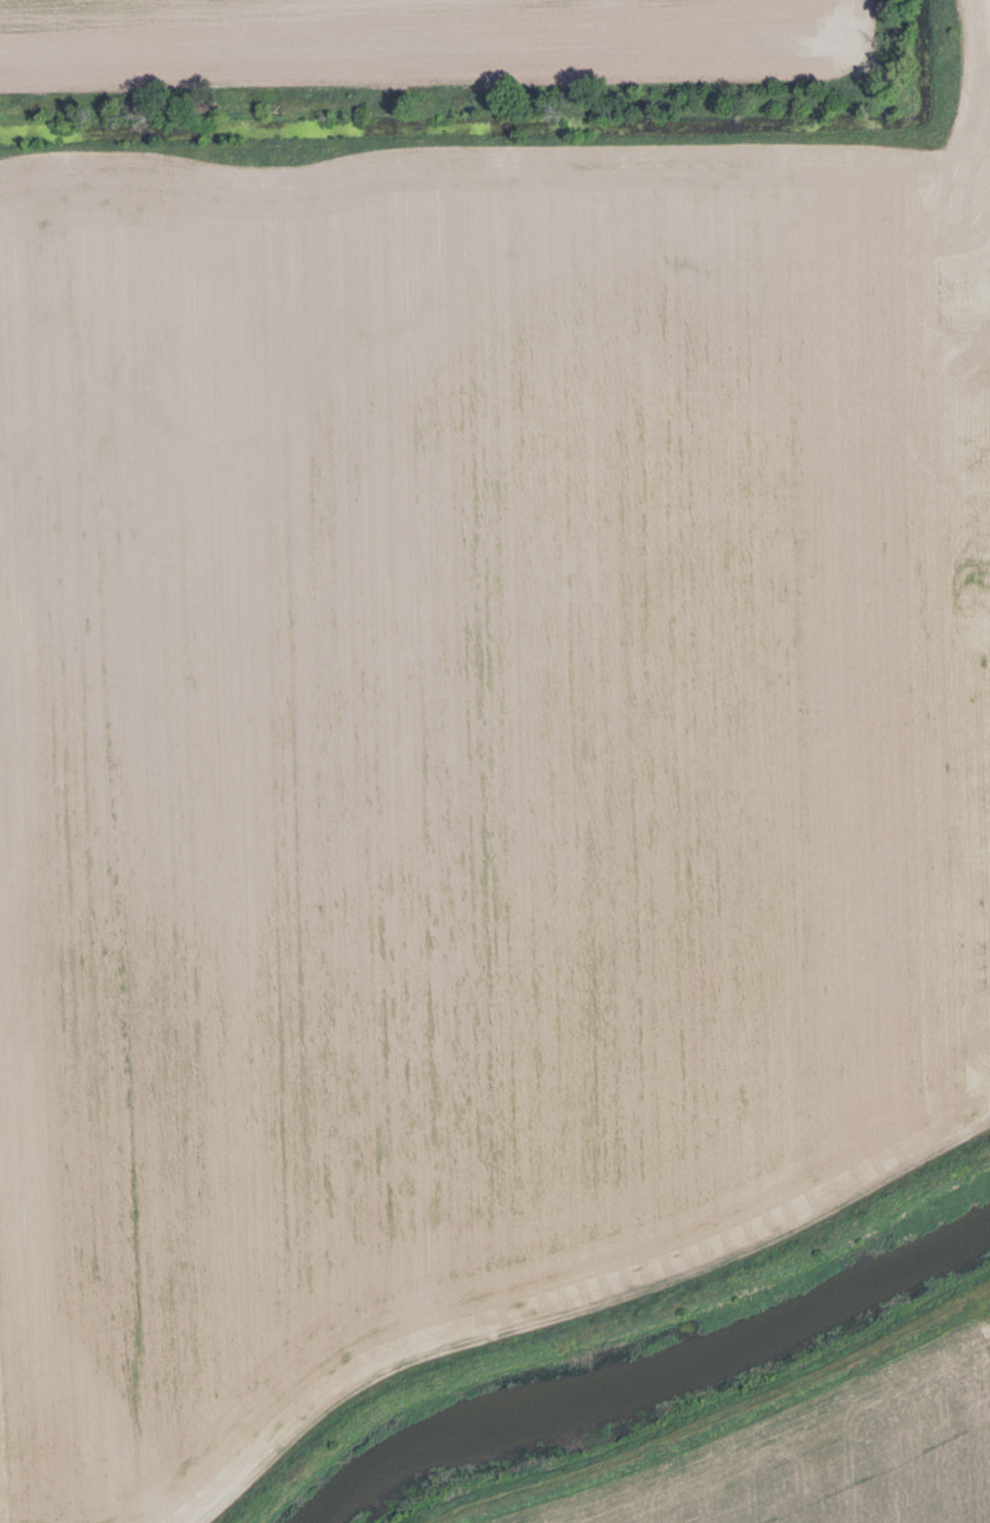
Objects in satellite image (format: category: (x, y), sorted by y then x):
road: (589, 1314)
river: (655, 1377)

